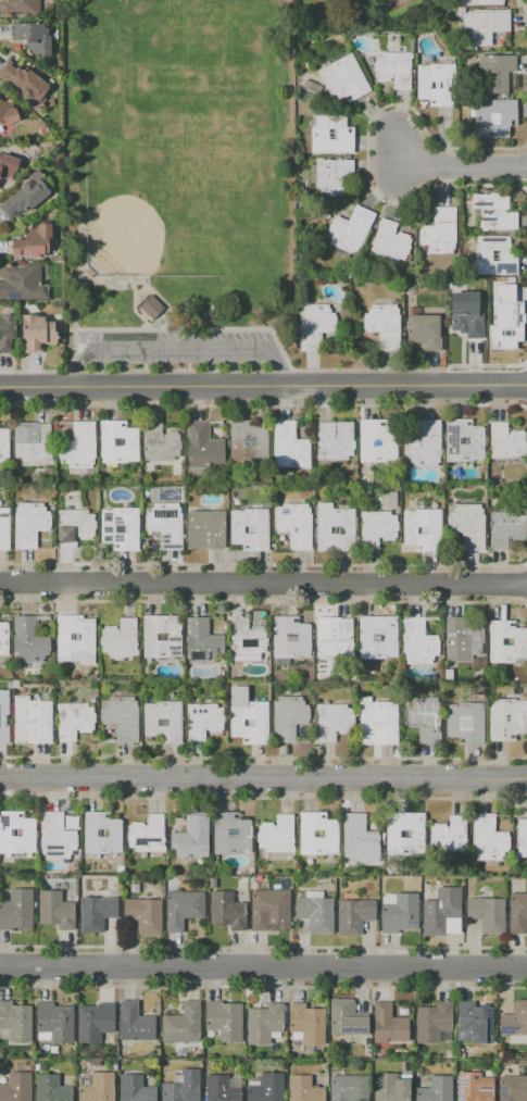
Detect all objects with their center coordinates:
building: (475, 2)
building: (20, 7)
building: (484, 25)
park: (172, 36)
building: (34, 38)
building: (393, 68)
building: (494, 73)
building: (343, 78)
building: (25, 83)
building: (436, 84)
building: (8, 112)
building: (497, 120)
building: (330, 135)
building: (8, 165)
road: (447, 165)
building: (330, 176)
park: (178, 184)
park: (212, 185)
building: (25, 196)
building: (494, 212)
park: (146, 214)
building: (350, 229)
building: (439, 230)
building: (33, 242)
building: (390, 242)
building: (509, 258)
road: (127, 277)
building: (22, 281)
building: (150, 308)
building: (476, 311)
road: (76, 317)
road: (142, 318)
building: (505, 318)
building: (315, 324)
building: (384, 325)
building: (7, 331)
building: (37, 331)
building: (424, 331)
parking lot: (178, 345)
road: (179, 351)
road: (263, 387)
building: (335, 440)
building: (463, 440)
building: (33, 441)
building: (248, 441)
building: (376, 441)
building: (505, 441)
building: (117, 442)
building: (160, 443)
building: (423, 445)
building: (3, 446)
building: (78, 446)
building: (289, 446)
building: (203, 447)
building: (29, 524)
building: (165, 524)
building: (294, 524)
building: (249, 525)
building: (467, 525)
building: (74, 527)
building: (120, 527)
building: (4, 528)
building: (377, 528)
building: (506, 528)
building: (206, 529)
building: (323, 529)
building: (422, 529)
road: (263, 583)
building: (74, 637)
building: (149, 637)
building: (290, 637)
building: (365, 637)
building: (120, 638)
building: (3, 639)
building: (336, 639)
building: (461, 640)
building: (29, 641)
building: (202, 641)
building: (417, 641)
building: (235, 642)
building: (506, 642)
building: (288, 716)
building: (247, 717)
building: (1, 718)
building: (122, 718)
building: (424, 718)
building: (506, 718)
building: (74, 720)
building: (204, 720)
building: (332, 721)
building: (32, 722)
building: (150, 722)
building: (377, 722)
building: (465, 722)
road: (263, 778)
building: (27, 833)
building: (114, 833)
building: (305, 833)
building: (405, 833)
building: (147, 834)
building: (230, 834)
building: (55, 835)
building: (276, 835)
building: (448, 835)
building: (191, 837)
building: (357, 838)
building: (487, 838)
building: (522, 838)
building: (184, 909)
building: (16, 910)
building: (55, 910)
building: (226, 910)
building: (269, 910)
building: (96, 912)
building: (315, 913)
building: (400, 913)
building: (517, 913)
building: (143, 914)
building: (487, 914)
building: (354, 915)
building: (439, 916)
road: (263, 968)
building: (346, 1018)
building: (224, 1019)
building: (514, 1019)
building: (15, 1021)
building: (55, 1022)
building: (95, 1022)
building: (134, 1022)
building: (432, 1022)
building: (183, 1023)
building: (264, 1023)
building: (474, 1023)
building: (388, 1024)
building: (305, 1025)
building: (183, 1086)
building: (15, 1087)
building: (349, 1087)
building: (474, 1087)
building: (51, 1088)
building: (97, 1088)
building: (222, 1088)
building: (266, 1088)
building: (390, 1088)
building: (512, 1088)
building: (135, 1089)
building: (303, 1089)
building: (436, 1089)

